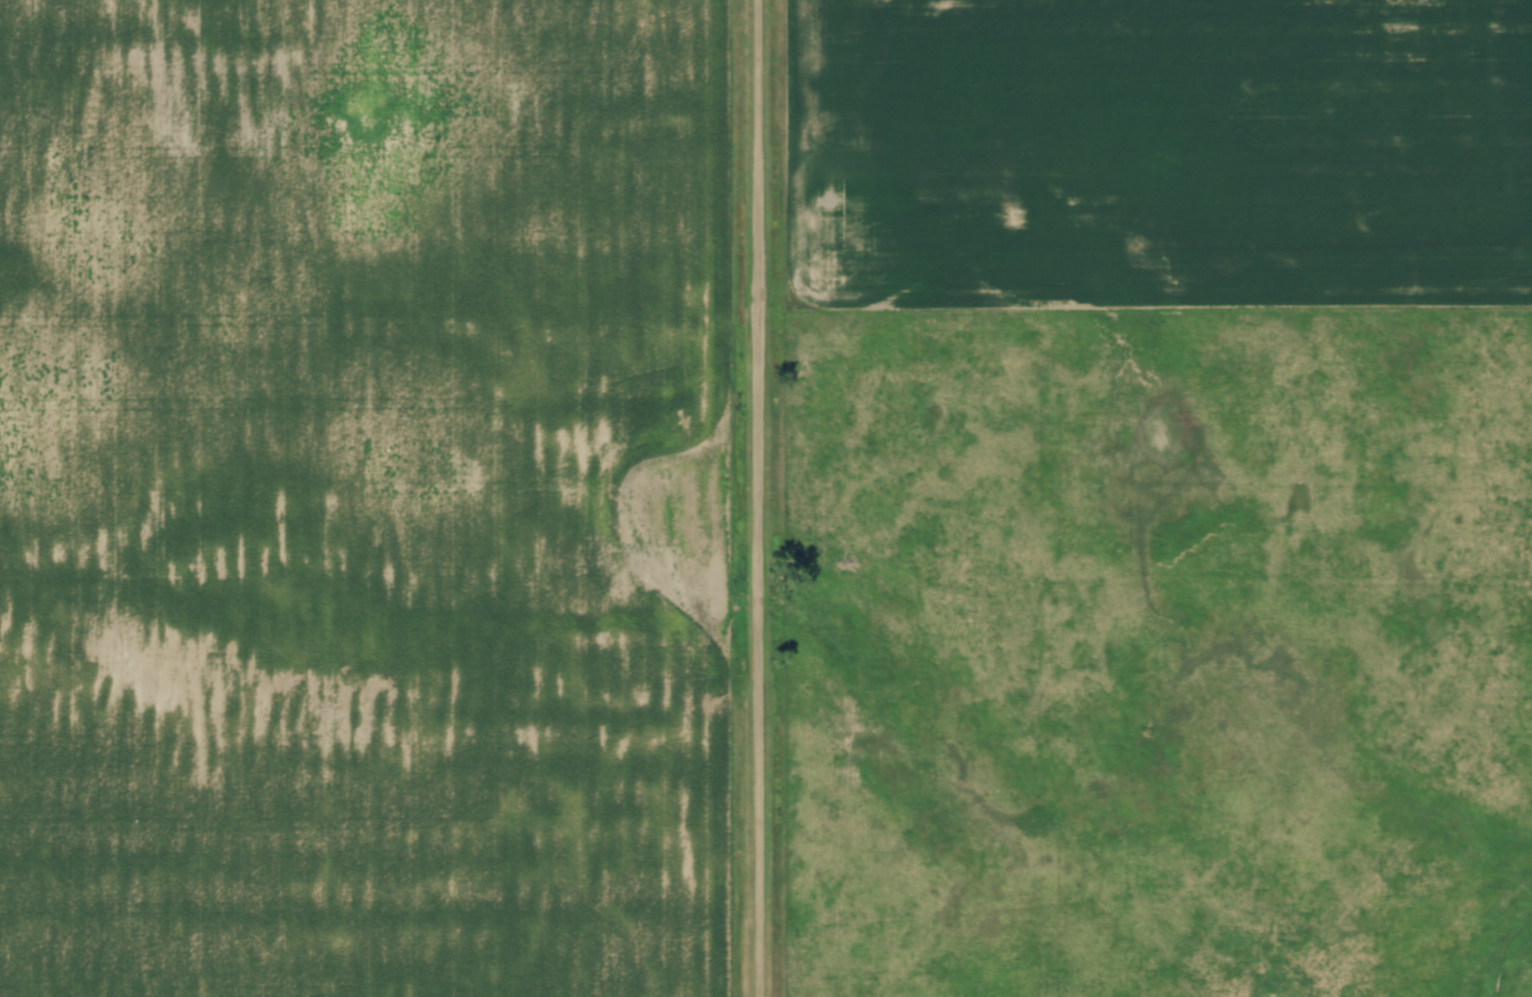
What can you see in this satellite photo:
road: (762, 498)

